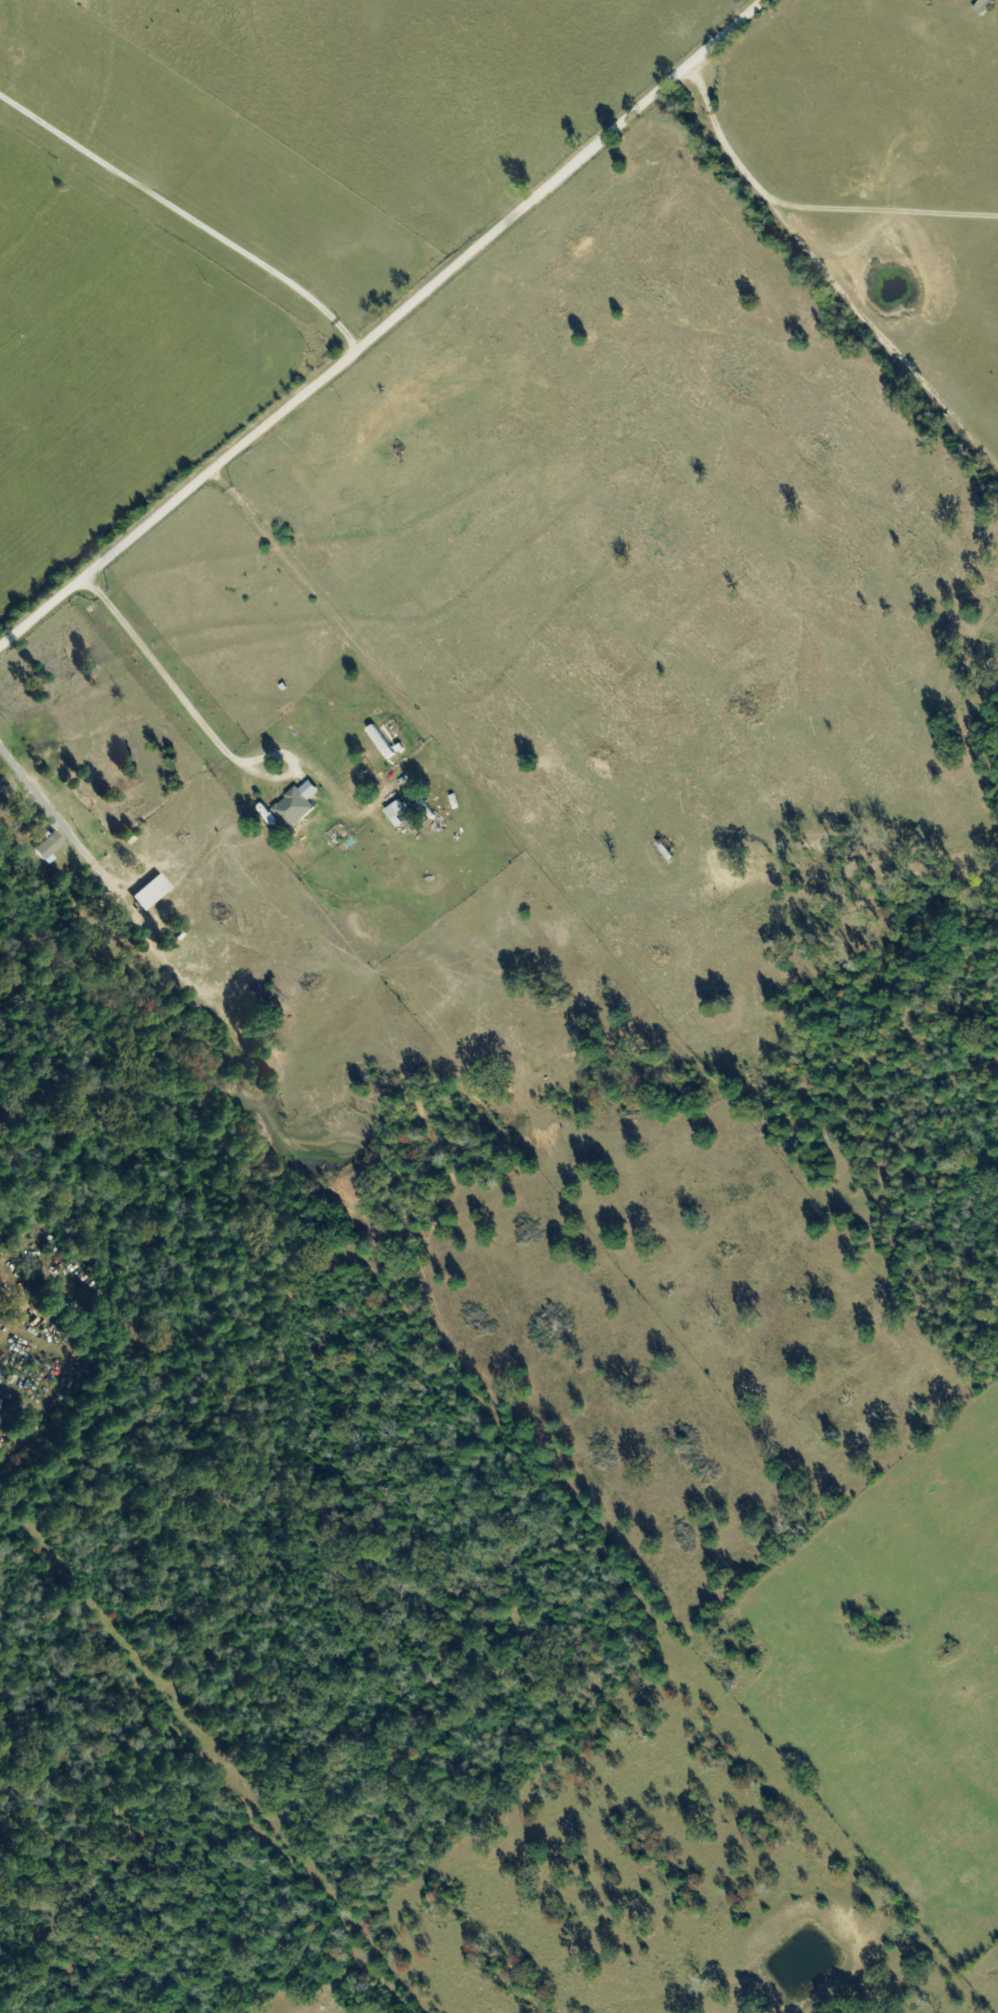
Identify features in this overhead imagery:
building: (981, 6)
road: (185, 209)
road: (382, 325)
building: (362, 389)
building: (354, 421)
road: (341, 622)
road: (198, 716)
road: (27, 778)
building: (291, 809)
building: (394, 811)

